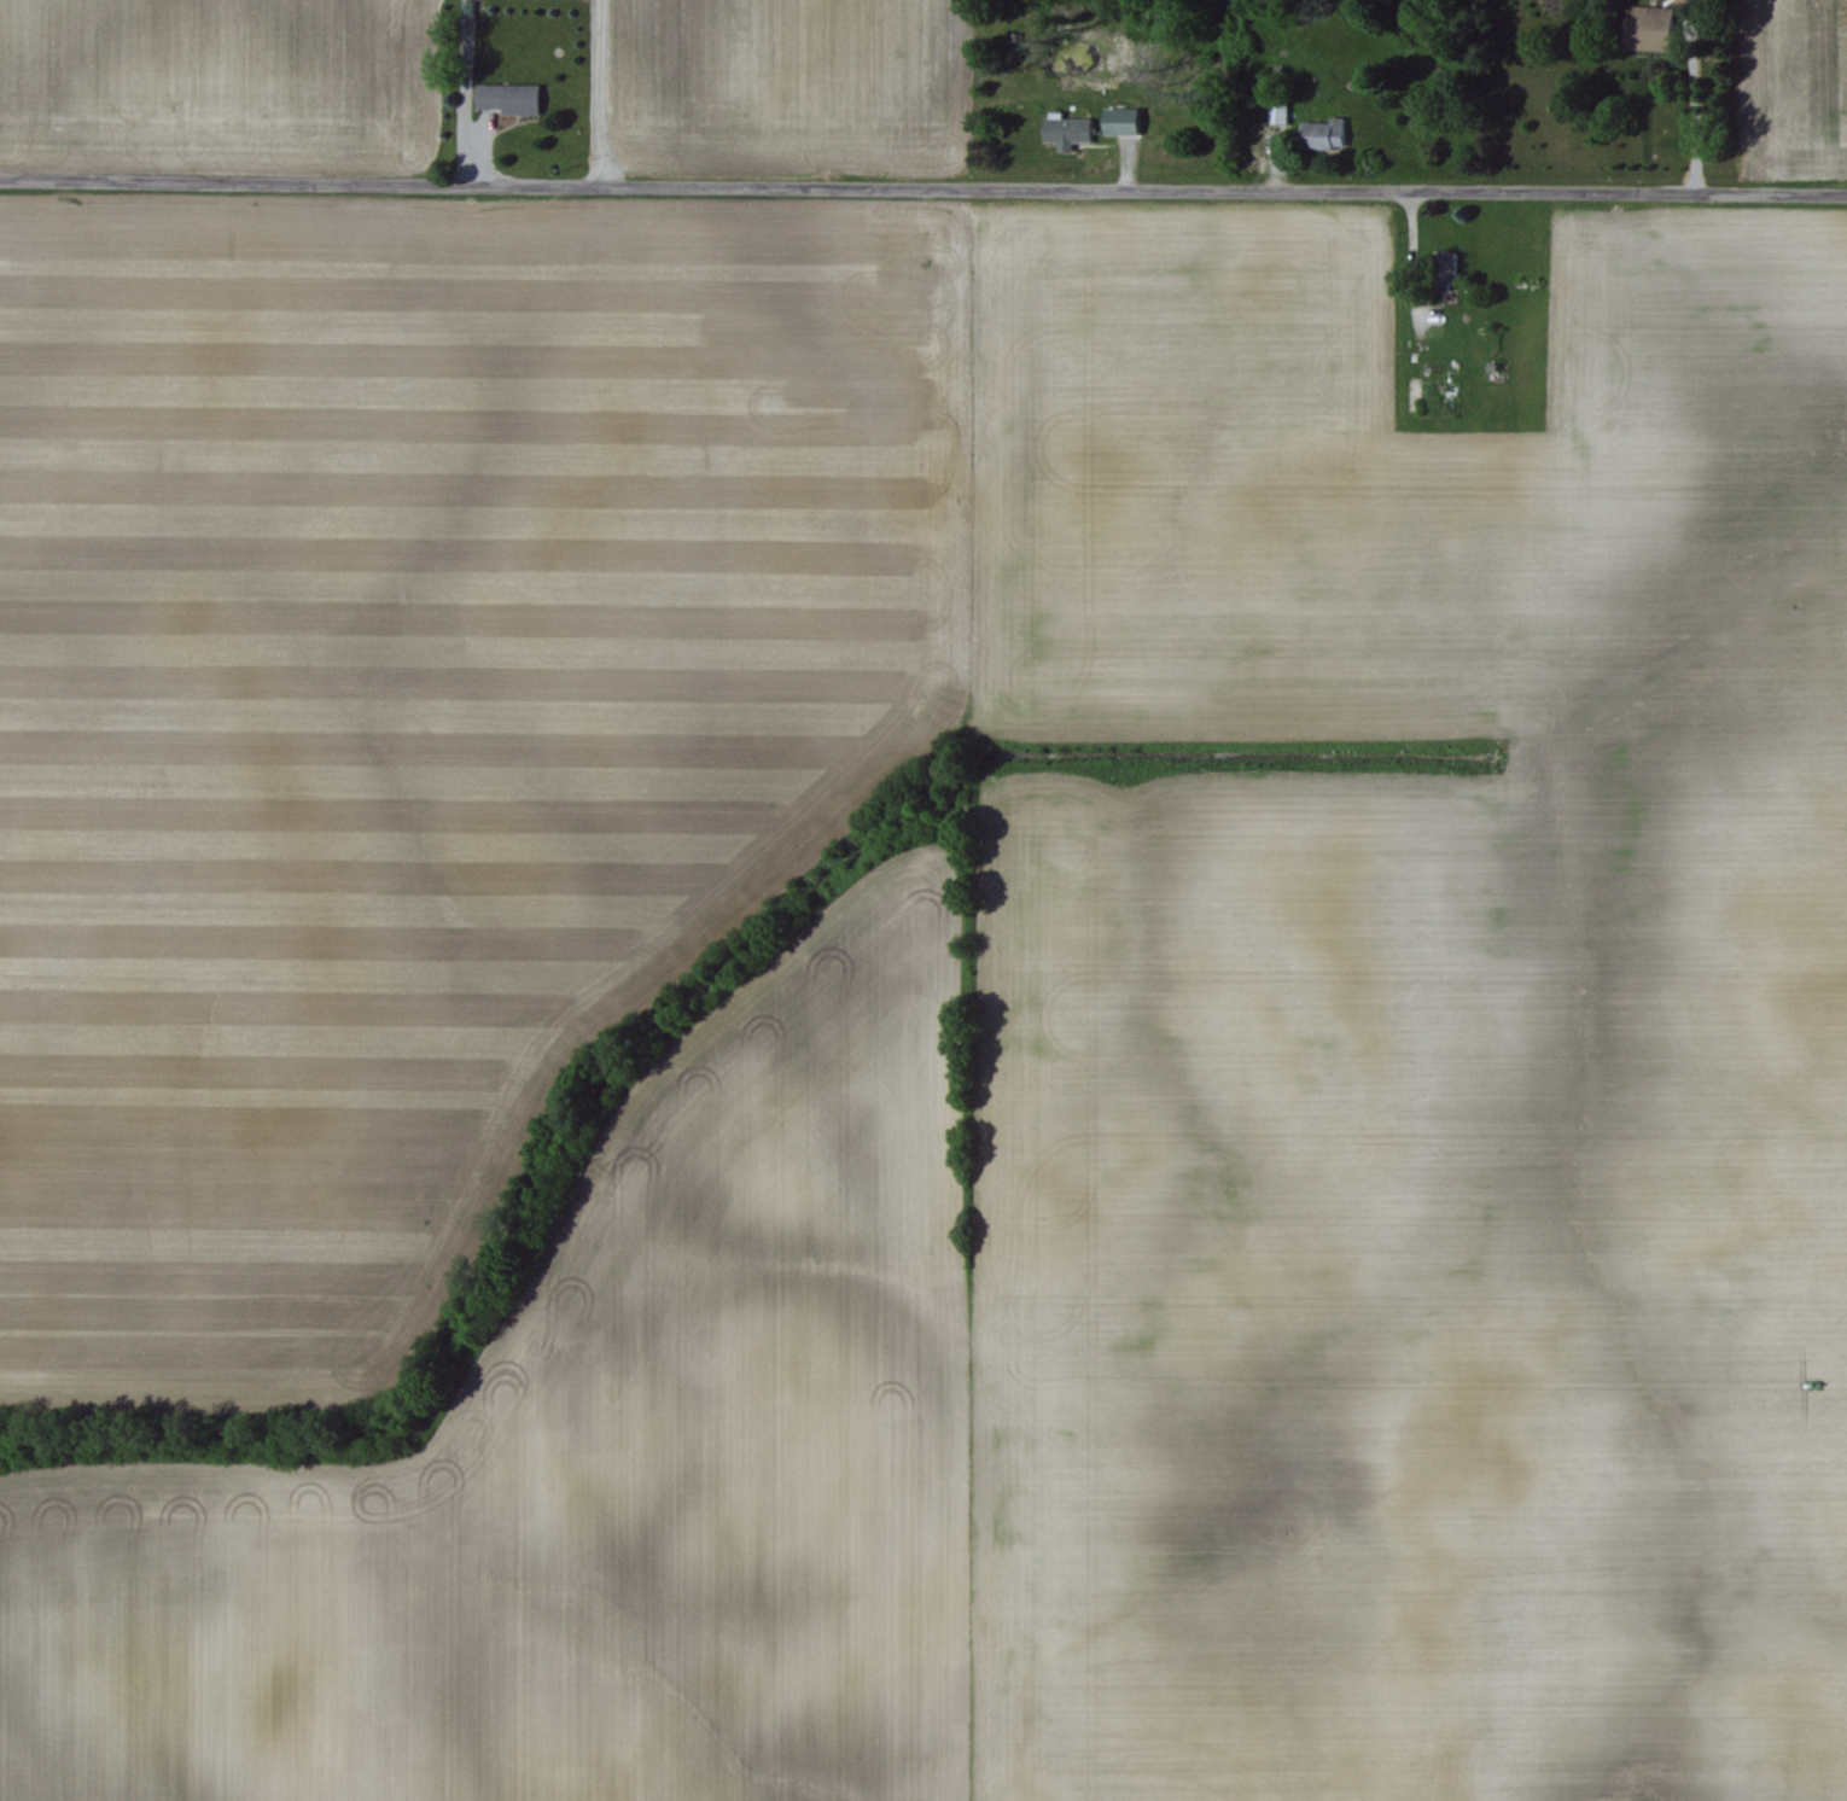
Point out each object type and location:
building: (1645, 28)
building: (506, 98)
road: (593, 98)
building: (1277, 115)
road: (458, 116)
road: (1696, 117)
building: (1119, 121)
building: (1065, 132)
building: (1321, 134)
road: (922, 197)
road: (1412, 266)
building: (1443, 268)

